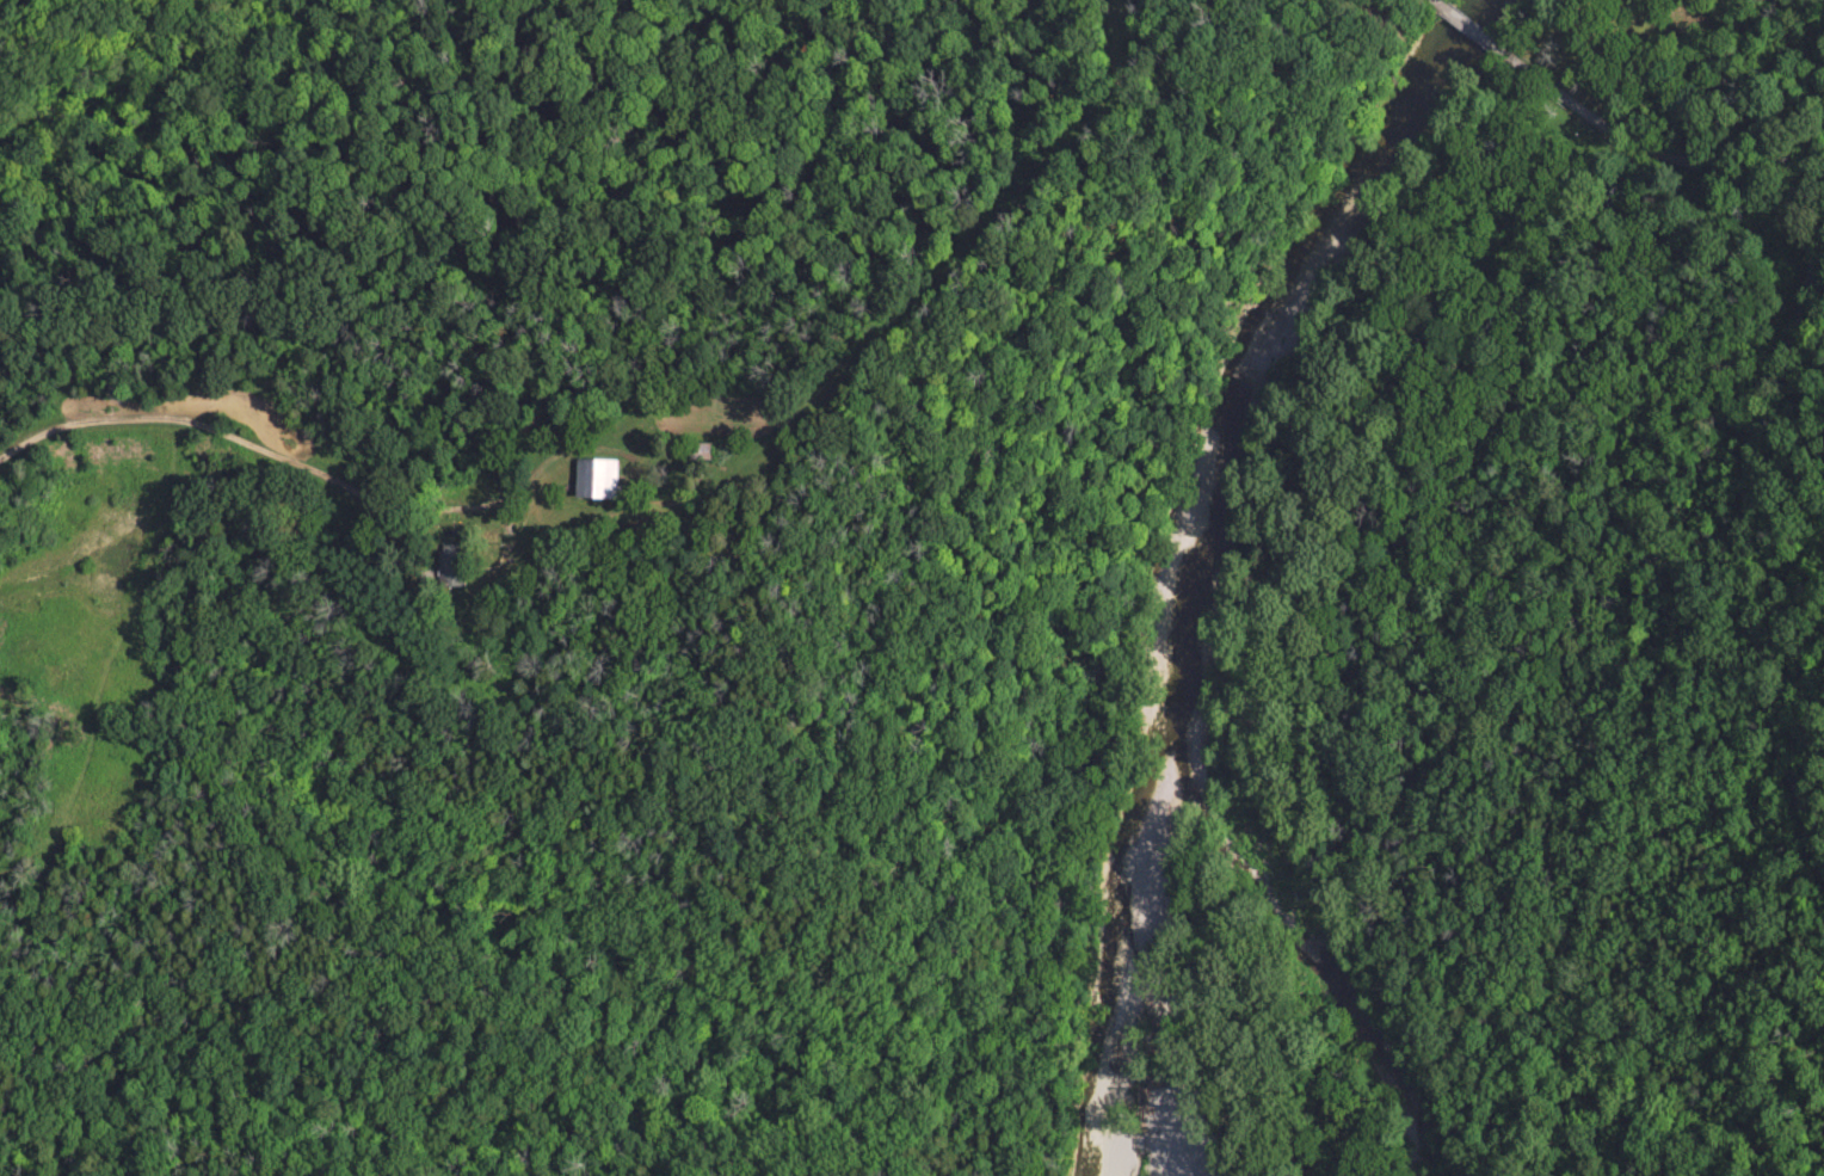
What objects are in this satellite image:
road: (1441, 2)
road: (1479, 33)
road: (1781, 362)
building: (596, 485)
building: (449, 560)

